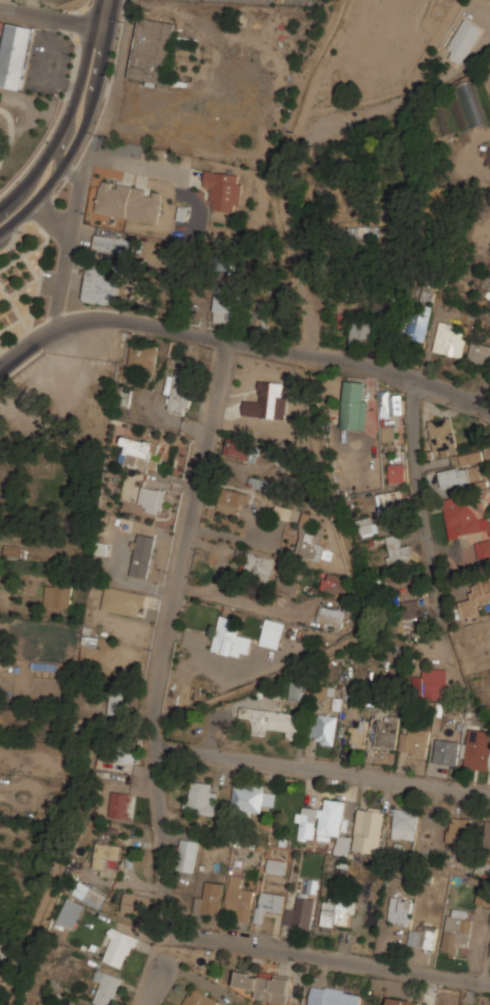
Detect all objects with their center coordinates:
road: (50, 17)
building: (463, 40)
building: (150, 50)
building: (14, 53)
road: (81, 105)
building: (488, 159)
road: (131, 163)
building: (224, 190)
building: (129, 202)
road: (14, 209)
road: (48, 217)
road: (68, 237)
building: (113, 244)
park: (25, 280)
building: (101, 286)
building: (225, 305)
building: (418, 325)
building: (362, 332)
building: (449, 340)
road: (241, 341)
building: (479, 353)
building: (143, 355)
building: (180, 388)
building: (123, 396)
building: (354, 404)
building: (389, 411)
building: (442, 433)
building: (241, 448)
building: (137, 449)
building: (471, 456)
building: (397, 471)
building: (459, 475)
building: (259, 482)
building: (151, 498)
building: (229, 499)
building: (391, 500)
road: (417, 504)
building: (283, 511)
building: (462, 517)
building: (367, 526)
building: (311, 539)
building: (398, 549)
building: (483, 550)
building: (11, 551)
building: (143, 554)
building: (258, 565)
building: (334, 582)
building: (285, 587)
building: (58, 594)
building: (476, 596)
building: (124, 600)
road: (252, 606)
building: (409, 608)
building: (329, 618)
building: (273, 632)
road: (166, 634)
building: (230, 637)
road: (218, 669)
building: (430, 683)
building: (295, 689)
building: (323, 691)
building: (118, 700)
building: (271, 720)
building: (323, 729)
building: (387, 732)
building: (357, 734)
building: (414, 741)
building: (477, 748)
building: (446, 750)
building: (120, 755)
road: (322, 770)
building: (201, 797)
building: (247, 797)
building: (119, 803)
building: (323, 822)
building: (405, 823)
building: (368, 828)
building: (109, 835)
building: (459, 835)
building: (486, 844)
building: (106, 852)
building: (187, 854)
building: (276, 865)
building: (89, 893)
building: (481, 896)
building: (239, 897)
building: (209, 898)
building: (137, 903)
building: (269, 904)
building: (299, 910)
building: (400, 910)
building: (337, 911)
building: (71, 912)
building: (489, 922)
building: (457, 929)
building: (424, 936)
building: (118, 947)
road: (332, 956)
building: (489, 956)
building: (265, 984)
road: (156, 985)
building: (107, 986)
building: (333, 995)
building: (201, 998)
building: (401, 1001)
building: (43, 1003)
building: (80, 1004)

